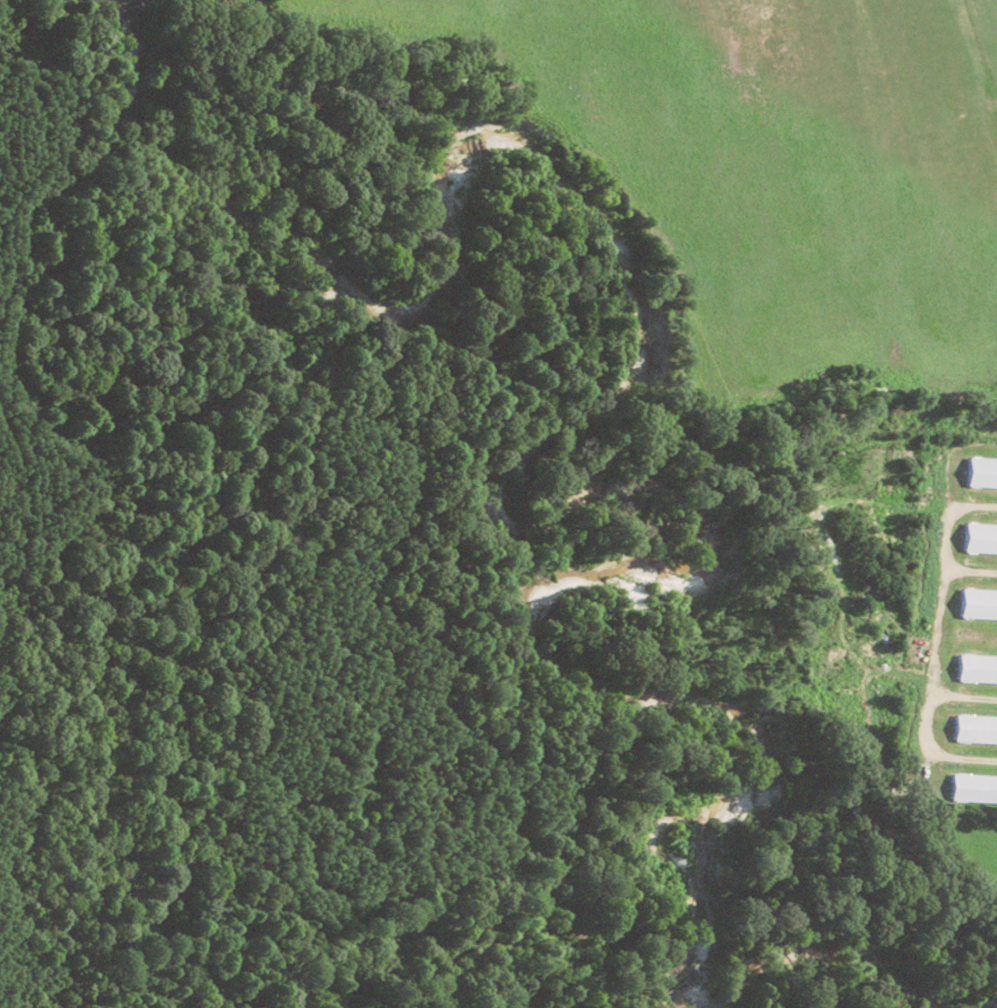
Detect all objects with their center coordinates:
building: (982, 474)
building: (980, 540)
building: (978, 606)
building: (977, 670)
building: (975, 731)
building: (974, 790)

